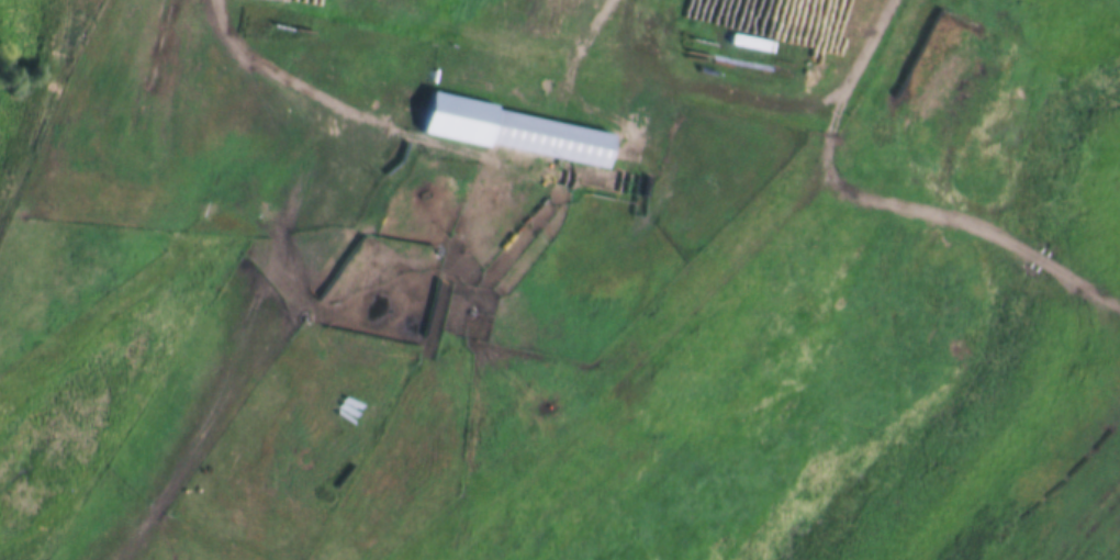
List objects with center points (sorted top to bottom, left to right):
road: (569, 80)
building: (511, 131)
road: (397, 212)

